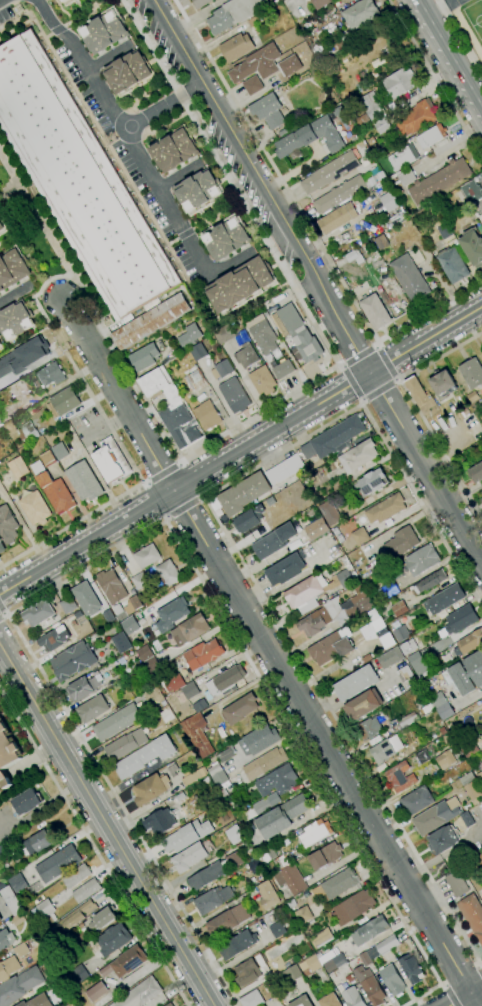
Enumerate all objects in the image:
road: (0, 0)
building: (63, 1)
building: (65, 1)
building: (200, 3)
building: (321, 3)
road: (430, 4)
building: (297, 9)
road: (62, 11)
road: (84, 13)
building: (234, 14)
building: (360, 14)
park: (474, 18)
building: (253, 21)
road: (58, 30)
building: (105, 32)
road: (48, 36)
road: (460, 36)
building: (236, 47)
road: (449, 55)
road: (107, 57)
building: (376, 62)
building: (257, 64)
building: (289, 65)
road: (441, 69)
building: (128, 72)
building: (374, 76)
road: (435, 78)
building: (400, 82)
building: (253, 85)
building: (373, 103)
road: (162, 108)
building: (268, 111)
building: (417, 118)
building: (363, 119)
building: (382, 126)
building: (283, 132)
building: (328, 134)
road: (102, 135)
building: (431, 136)
building: (295, 141)
building: (174, 151)
road: (137, 152)
building: (403, 157)
road: (274, 170)
building: (330, 172)
building: (380, 176)
road: (177, 177)
building: (407, 177)
building: (79, 181)
road: (231, 181)
building: (370, 181)
building: (439, 181)
road: (260, 186)
building: (197, 190)
building: (472, 192)
building: (339, 194)
building: (389, 201)
road: (216, 214)
road: (35, 215)
building: (0, 218)
building: (338, 218)
building: (479, 218)
building: (1, 227)
road: (19, 231)
building: (445, 231)
road: (184, 234)
building: (227, 239)
road: (172, 242)
building: (381, 242)
building: (472, 247)
building: (354, 256)
building: (452, 265)
building: (13, 269)
building: (409, 277)
building: (240, 284)
road: (15, 294)
road: (481, 305)
road: (429, 310)
building: (375, 311)
building: (15, 320)
building: (151, 322)
building: (278, 324)
building: (224, 334)
building: (300, 334)
road: (107, 335)
building: (264, 337)
building: (186, 340)
building: (0, 344)
road: (375, 344)
building: (198, 352)
building: (246, 355)
building: (24, 356)
road: (440, 356)
building: (144, 357)
road: (359, 357)
road: (384, 364)
road: (340, 366)
building: (222, 369)
building: (283, 369)
building: (472, 373)
building: (50, 375)
building: (195, 380)
road: (396, 380)
building: (263, 381)
building: (35, 383)
road: (352, 383)
building: (442, 383)
building: (160, 385)
building: (17, 389)
road: (377, 389)
building: (234, 395)
building: (419, 395)
building: (455, 396)
building: (471, 397)
road: (361, 401)
building: (63, 402)
building: (8, 413)
building: (207, 415)
building: (448, 419)
building: (0, 424)
building: (179, 426)
building: (27, 433)
building: (333, 438)
building: (462, 440)
road: (440, 450)
building: (59, 451)
road: (240, 451)
building: (358, 455)
building: (47, 458)
building: (111, 460)
building: (18, 468)
road: (425, 468)
building: (284, 470)
building: (476, 472)
road: (192, 480)
building: (373, 481)
building: (84, 482)
building: (53, 489)
building: (244, 494)
building: (481, 500)
road: (151, 502)
road: (421, 505)
building: (35, 508)
building: (386, 509)
road: (185, 510)
building: (329, 513)
building: (247, 519)
building: (7, 525)
road: (70, 525)
building: (316, 529)
road: (141, 534)
building: (360, 536)
building: (274, 541)
building: (403, 541)
building: (1, 547)
building: (146, 556)
building: (0, 558)
building: (422, 559)
building: (287, 569)
building: (168, 573)
building: (345, 578)
building: (140, 581)
building: (430, 582)
building: (111, 586)
building: (390, 589)
building: (303, 593)
building: (86, 598)
building: (444, 600)
building: (135, 603)
building: (68, 605)
road: (4, 609)
building: (399, 609)
building: (118, 610)
building: (335, 611)
building: (39, 612)
building: (172, 614)
building: (109, 616)
road: (4, 619)
building: (461, 619)
building: (127, 625)
building: (191, 628)
building: (377, 630)
building: (400, 633)
building: (54, 639)
building: (121, 643)
building: (468, 643)
building: (332, 647)
building: (408, 647)
road: (270, 652)
road: (294, 652)
building: (143, 653)
building: (203, 654)
building: (390, 658)
building: (73, 661)
building: (150, 664)
building: (418, 664)
building: (404, 674)
building: (465, 674)
building: (226, 681)
building: (174, 683)
building: (356, 683)
building: (84, 687)
building: (183, 694)
building: (200, 705)
building: (363, 705)
building: (442, 706)
building: (92, 709)
building: (240, 709)
building: (116, 722)
building: (403, 722)
building: (367, 729)
building: (458, 730)
building: (197, 735)
building: (259, 740)
building: (125, 745)
building: (468, 748)
building: (385, 749)
building: (226, 754)
building: (7, 755)
building: (422, 756)
building: (144, 757)
building: (445, 759)
building: (264, 763)
building: (173, 770)
building: (217, 775)
building: (193, 776)
building: (400, 777)
building: (479, 777)
building: (467, 779)
building: (277, 781)
building: (151, 789)
building: (473, 789)
building: (179, 797)
building: (417, 801)
building: (26, 802)
road: (41, 807)
building: (256, 810)
building: (282, 816)
building: (434, 818)
building: (467, 819)
building: (160, 822)
road: (107, 824)
building: (315, 833)
building: (234, 835)
building: (187, 836)
building: (443, 839)
building: (37, 842)
building: (243, 845)
road: (93, 847)
building: (271, 852)
building: (192, 856)
building: (325, 856)
building: (234, 859)
building: (257, 862)
building: (58, 864)
building: (77, 876)
building: (207, 876)
building: (289, 876)
building: (17, 883)
building: (339, 883)
building: (456, 884)
building: (2, 885)
building: (86, 891)
building: (267, 895)
building: (213, 899)
building: (11, 901)
building: (291, 904)
building: (353, 907)
building: (45, 908)
building: (303, 915)
building: (472, 915)
building: (73, 918)
building: (102, 919)
building: (1, 920)
building: (18, 920)
building: (228, 920)
building: (277, 929)
building: (373, 929)
building: (321, 938)
building: (6, 939)
building: (113, 939)
building: (237, 945)
building: (387, 945)
building: (21, 950)
building: (365, 959)
building: (129, 961)
road: (480, 962)
building: (335, 963)
road: (477, 965)
building: (8, 968)
building: (410, 969)
building: (104, 970)
road: (479, 971)
building: (291, 972)
building: (247, 973)
building: (79, 974)
building: (392, 980)
road: (442, 984)
building: (369, 985)
building: (20, 986)
building: (95, 991)
building: (139, 994)
building: (350, 996)
road: (449, 996)
road: (467, 996)
building: (251, 999)
building: (37, 1001)
building: (301, 1001)
building: (330, 1001)
building: (168, 1005)

